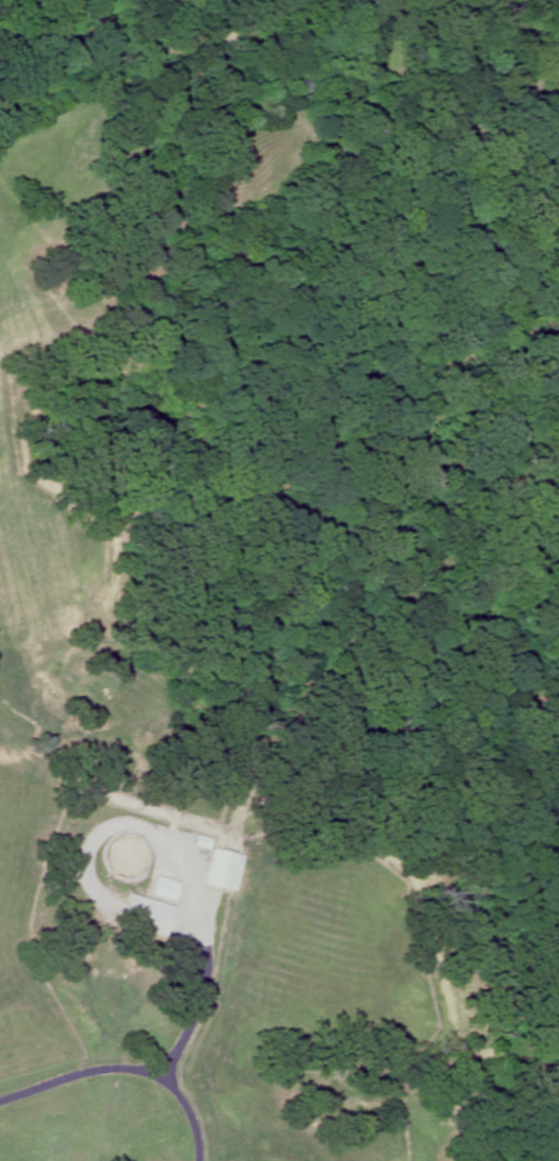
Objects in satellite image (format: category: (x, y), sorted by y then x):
building: (216, 869)
building: (158, 888)
building: (138, 914)

